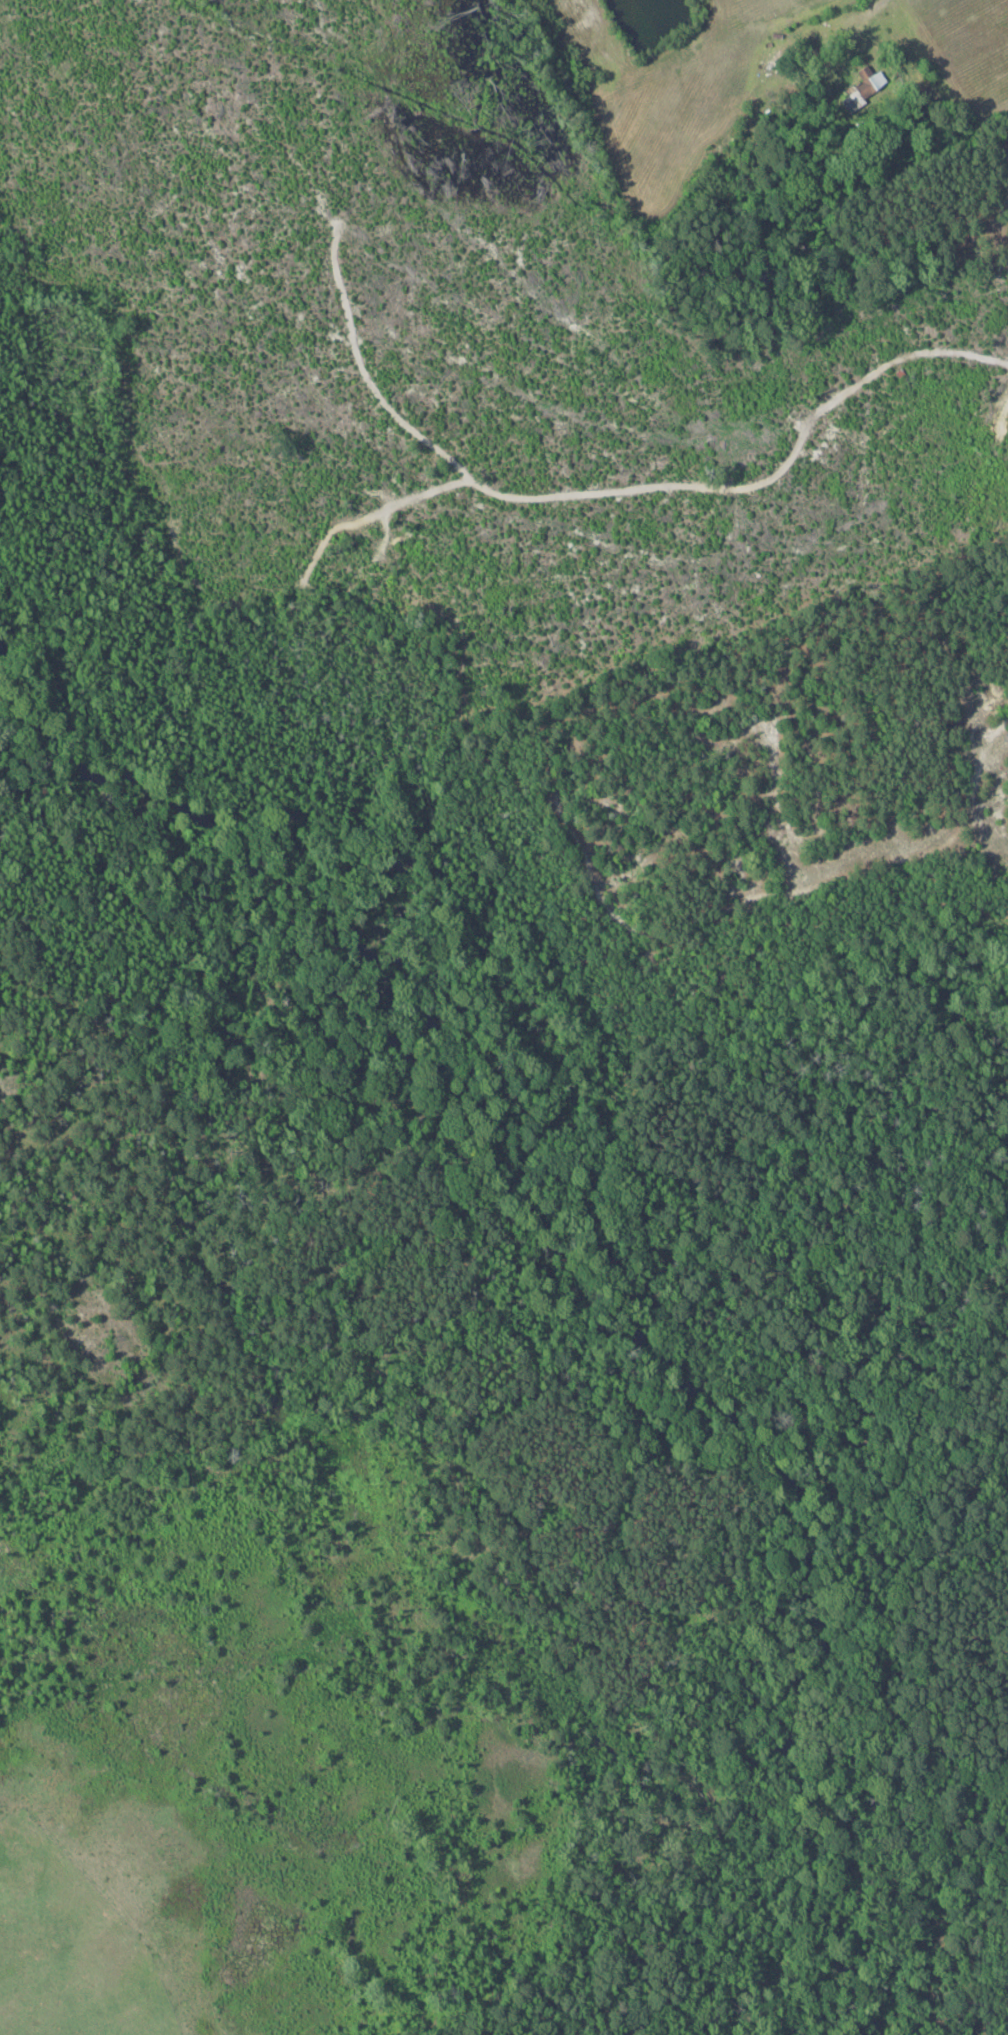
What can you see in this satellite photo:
building: (863, 88)

